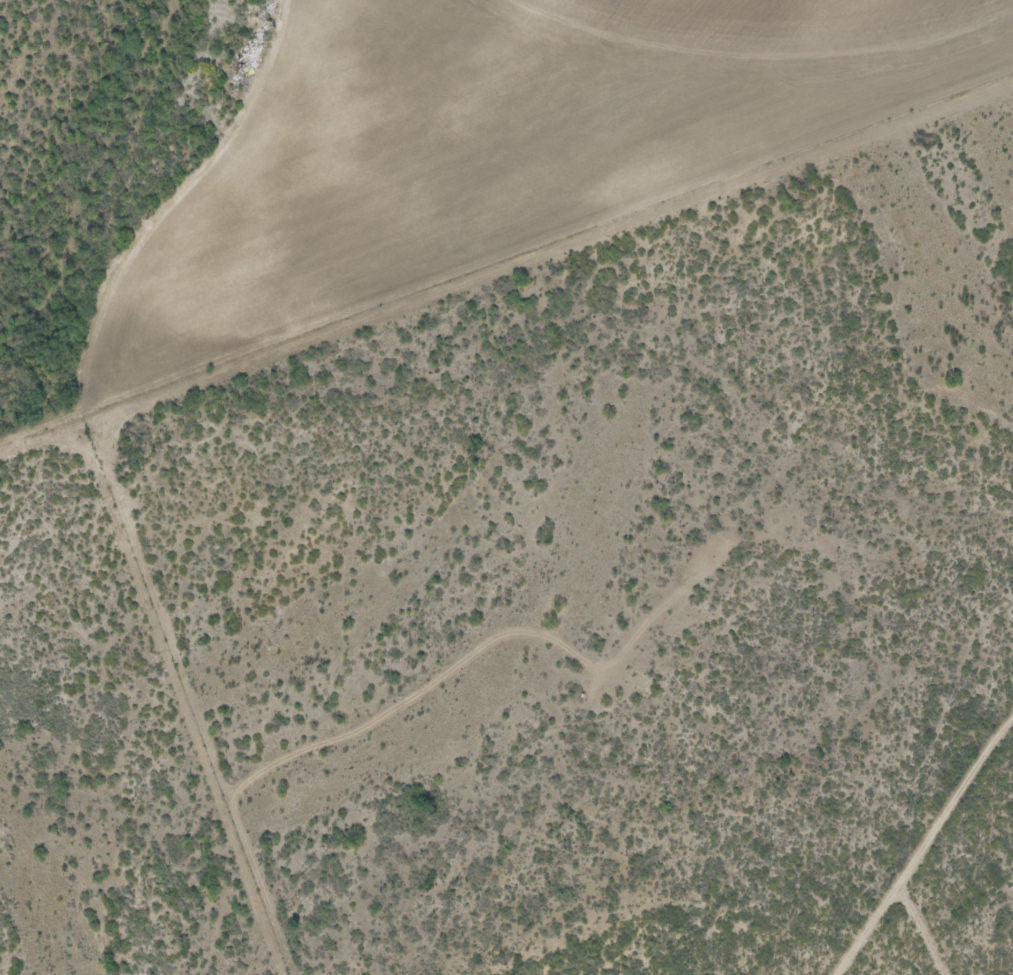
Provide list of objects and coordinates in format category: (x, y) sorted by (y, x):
road: (923, 785)
road: (969, 825)

